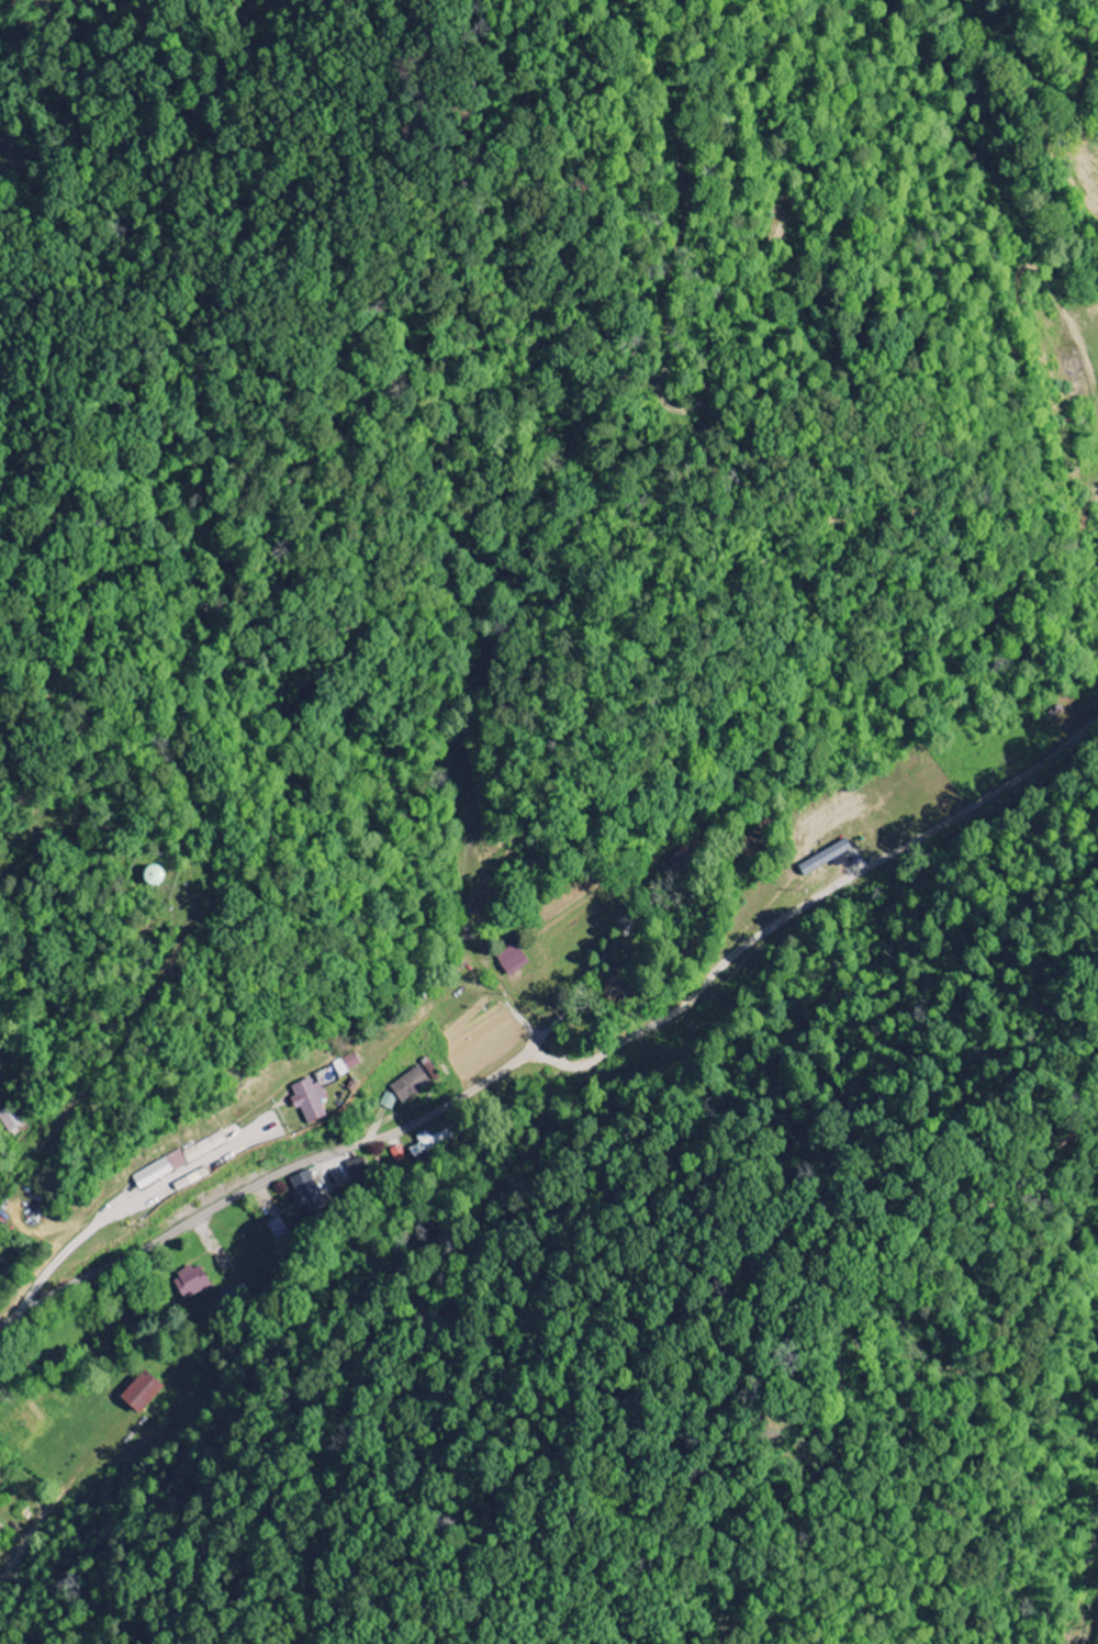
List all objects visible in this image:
building: (683, 858)
building: (150, 874)
building: (513, 960)
building: (347, 1065)
building: (410, 1085)
building: (307, 1100)
building: (389, 1101)
building: (428, 1143)
building: (158, 1171)
building: (303, 1184)
road: (268, 1187)
building: (276, 1228)
park: (5, 1259)
building: (191, 1282)
building: (139, 1393)

